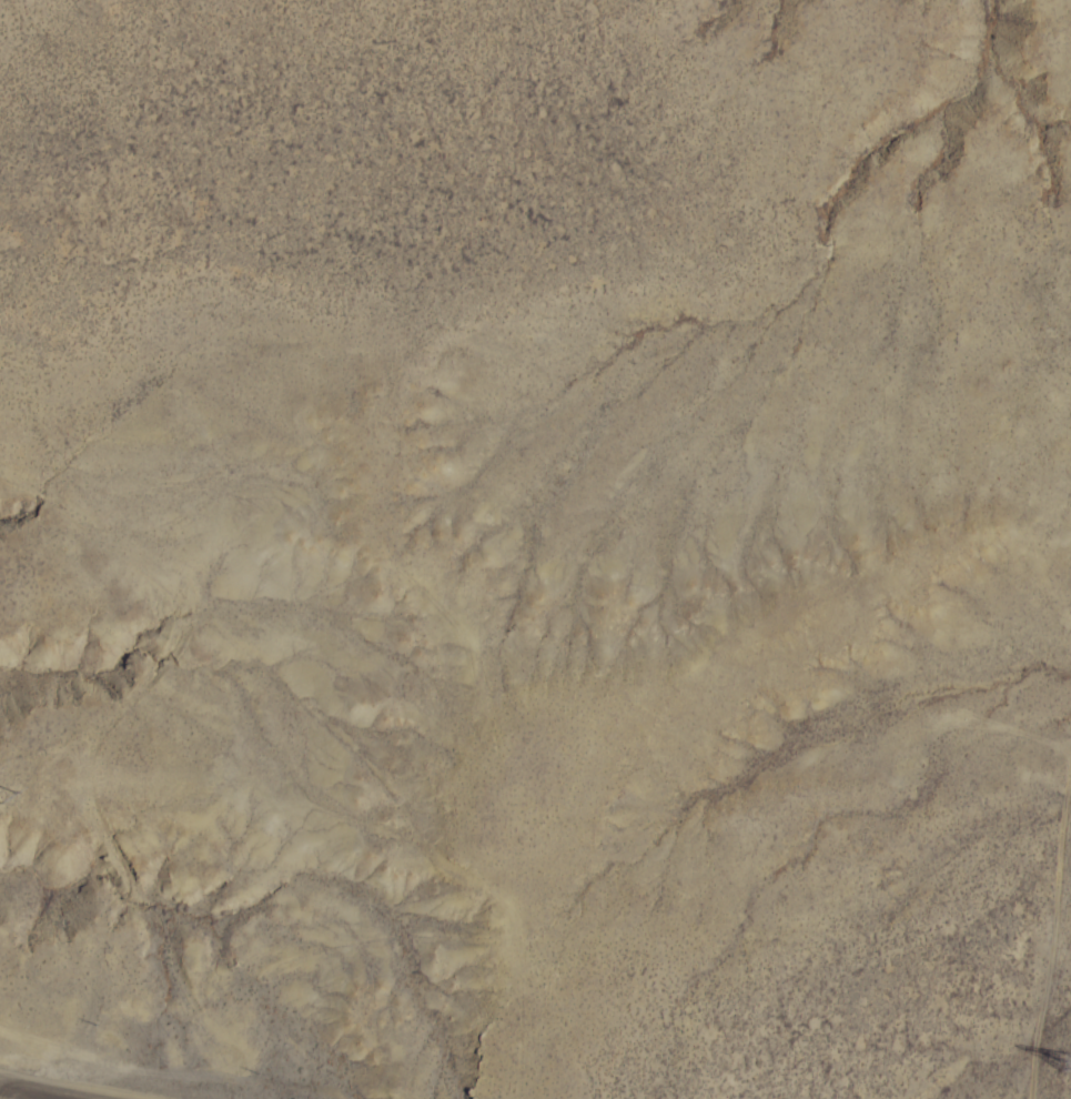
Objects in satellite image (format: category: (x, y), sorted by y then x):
power tower: (9, 797)
road: (118, 1056)

